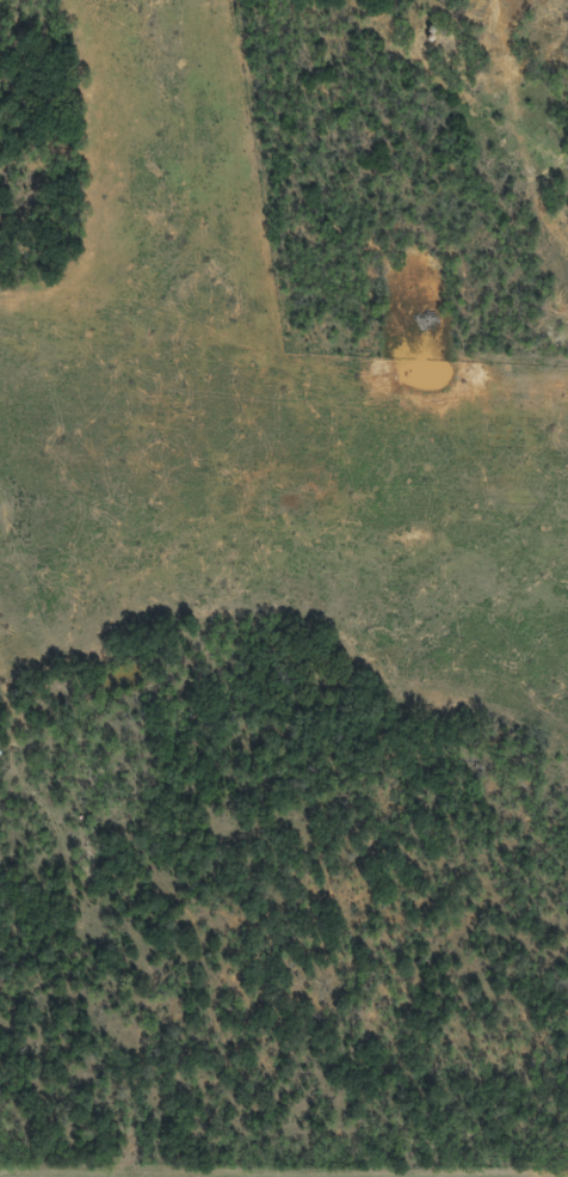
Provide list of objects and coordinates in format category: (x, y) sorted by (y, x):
road: (284, 1169)

